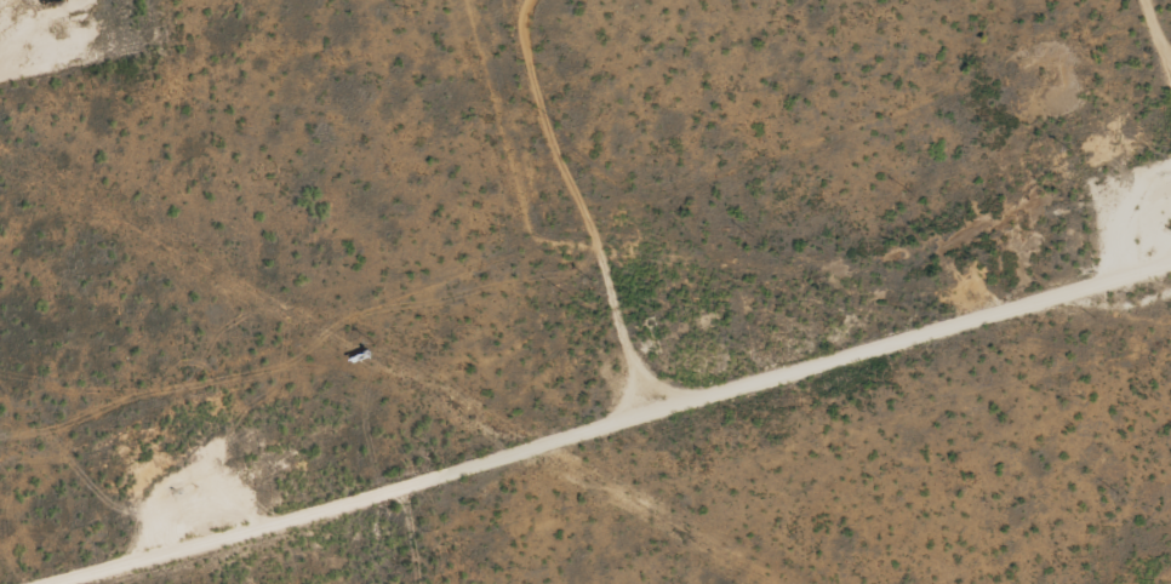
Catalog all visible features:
road: (701, 378)

